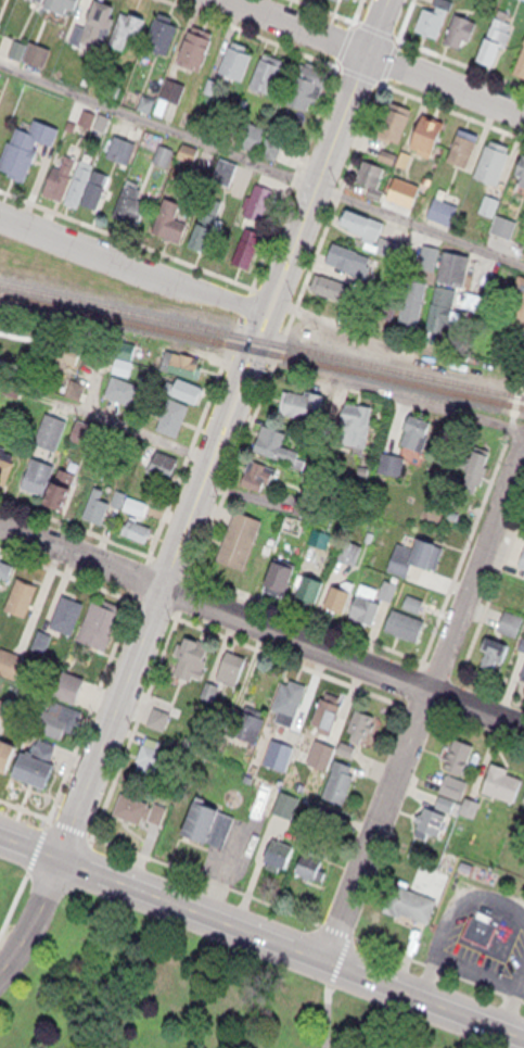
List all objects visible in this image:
building: (354, 0)
building: (523, 0)
building: (54, 5)
building: (427, 14)
building: (91, 24)
building: (123, 24)
building: (459, 26)
building: (158, 28)
building: (494, 36)
building: (193, 41)
road: (413, 41)
building: (233, 54)
road: (383, 54)
building: (38, 55)
building: (519, 58)
road: (348, 67)
building: (267, 68)
building: (304, 81)
building: (392, 117)
building: (426, 130)
building: (263, 140)
road: (305, 141)
building: (25, 142)
building: (463, 144)
road: (352, 148)
building: (490, 155)
road: (261, 165)
building: (517, 165)
building: (227, 172)
building: (57, 173)
building: (372, 174)
building: (77, 177)
building: (97, 181)
building: (523, 187)
building: (132, 197)
building: (259, 202)
building: (489, 206)
building: (174, 210)
building: (446, 213)
building: (358, 218)
building: (202, 219)
building: (506, 227)
building: (203, 236)
building: (374, 237)
building: (247, 242)
road: (146, 243)
building: (347, 255)
building: (431, 258)
road: (133, 267)
building: (457, 269)
building: (330, 282)
building: (408, 301)
building: (513, 306)
building: (437, 312)
road: (361, 327)
railway: (261, 340)
railway: (261, 351)
building: (176, 357)
building: (64, 358)
building: (124, 367)
building: (181, 384)
building: (76, 391)
building: (122, 391)
road: (421, 396)
building: (302, 399)
building: (171, 413)
building: (353, 421)
road: (523, 424)
building: (414, 426)
road: (222, 429)
road: (151, 430)
building: (53, 431)
road: (245, 433)
building: (89, 434)
road: (513, 438)
building: (273, 440)
building: (4, 458)
building: (158, 460)
building: (472, 465)
building: (256, 469)
building: (34, 470)
building: (60, 481)
building: (68, 494)
building: (95, 503)
building: (138, 504)
building: (133, 527)
building: (296, 527)
building: (237, 533)
building: (144, 535)
building: (353, 552)
building: (423, 552)
building: (522, 553)
building: (4, 565)
road: (452, 569)
building: (277, 572)
building: (307, 582)
road: (491, 585)
road: (137, 586)
building: (20, 591)
building: (336, 595)
building: (414, 604)
building: (363, 605)
building: (65, 606)
road: (293, 608)
road: (179, 614)
building: (99, 618)
building: (510, 618)
building: (404, 619)
road: (261, 628)
building: (487, 652)
building: (192, 655)
building: (230, 667)
building: (522, 668)
building: (1, 681)
road: (429, 694)
building: (285, 695)
building: (324, 706)
building: (4, 707)
building: (177, 707)
building: (55, 718)
building: (161, 718)
building: (366, 724)
building: (7, 747)
building: (458, 754)
building: (34, 756)
building: (150, 756)
building: (499, 776)
building: (337, 778)
building: (522, 791)
building: (132, 804)
building: (426, 816)
building: (208, 820)
building: (276, 848)
building: (314, 862)
road: (181, 866)
building: (407, 897)
road: (460, 897)
road: (33, 916)
building: (478, 923)
parking lot: (452, 931)
road: (261, 936)
road: (443, 965)
road: (519, 976)
road: (424, 980)
park: (162, 984)
road: (327, 1006)
road: (506, 1010)

